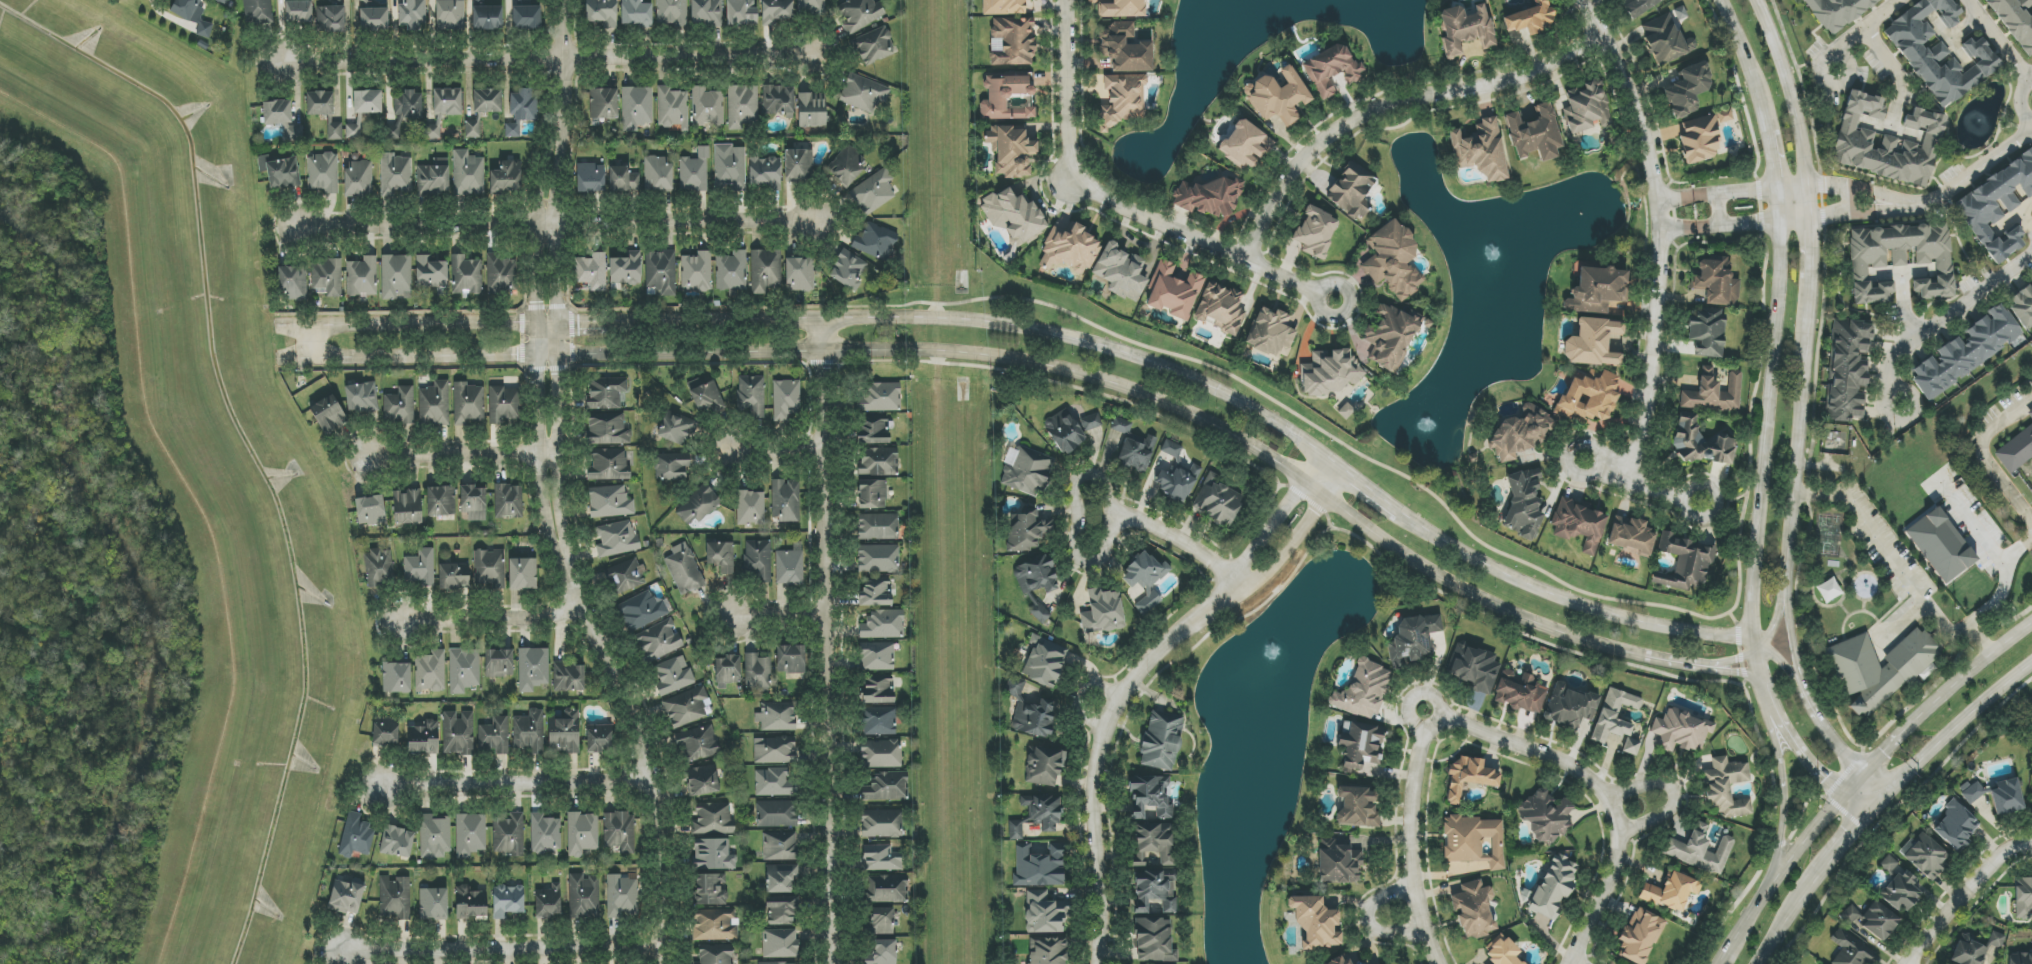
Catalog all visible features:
building: (363, 0)
building: (1004, 7)
building: (1640, 7)
building: (811, 8)
building: (1119, 8)
building: (257, 10)
building: (298, 11)
building: (776, 11)
building: (602, 12)
building: (741, 12)
building: (1837, 12)
building: (636, 13)
building: (671, 13)
building: (706, 13)
building: (193, 14)
building: (412, 14)
building: (859, 14)
building: (450, 15)
building: (525, 16)
building: (487, 18)
building: (1531, 18)
building: (335, 19)
building: (374, 19)
building: (2016, 21)
road: (1868, 23)
building: (1465, 29)
road: (1998, 39)
building: (1666, 40)
building: (1013, 41)
building: (874, 46)
building: (1124, 48)
building: (1939, 53)
road: (548, 57)
building: (1332, 69)
road: (1894, 72)
road: (2030, 77)
road: (1787, 89)
building: (1687, 90)
building: (863, 93)
building: (1007, 97)
building: (1277, 97)
building: (1121, 99)
building: (487, 100)
building: (367, 101)
building: (778, 101)
building: (320, 103)
building: (603, 103)
road: (2018, 103)
building: (523, 105)
building: (408, 106)
building: (742, 106)
road: (1388, 106)
building: (637, 107)
building: (707, 107)
building: (672, 108)
building: (1586, 108)
building: (442, 109)
building: (812, 110)
building: (277, 112)
building: (1724, 116)
building: (472, 129)
building: (512, 130)
building: (335, 131)
building: (353, 131)
building: (293, 133)
building: (1535, 134)
building: (1699, 139)
building: (1887, 142)
building: (1245, 144)
building: (1010, 150)
building: (1480, 150)
building: (798, 165)
building: (846, 165)
building: (729, 167)
building: (279, 172)
building: (694, 172)
building: (765, 172)
building: (322, 173)
building: (395, 174)
building: (468, 174)
building: (658, 175)
building: (434, 177)
building: (506, 177)
building: (358, 178)
building: (591, 178)
road: (1964, 179)
building: (623, 180)
road: (1840, 188)
road: (1733, 190)
building: (1351, 191)
building: (873, 192)
building: (1209, 196)
road: (1880, 198)
road: (1847, 200)
road: (1116, 204)
road: (1881, 206)
building: (1997, 207)
building: (2031, 211)
road: (1841, 212)
building: (1012, 214)
road: (557, 222)
road: (1733, 223)
road: (1659, 231)
building: (1314, 232)
building: (875, 241)
fountain: (1493, 255)
road: (1807, 257)
building: (1393, 259)
building: (1901, 259)
building: (626, 269)
building: (847, 269)
building: (592, 271)
building: (731, 271)
building: (765, 271)
building: (661, 272)
building: (696, 272)
building: (1120, 272)
building: (431, 273)
building: (500, 273)
building: (466, 275)
building: (800, 275)
building: (396, 276)
building: (327, 277)
building: (362, 277)
building: (1716, 281)
building: (293, 283)
building: (1596, 289)
building: (1173, 291)
building: (2022, 305)
building: (1220, 308)
road: (1940, 319)
road: (297, 326)
building: (1272, 332)
building: (1707, 333)
building: (1390, 336)
road: (313, 341)
building: (1593, 343)
road: (1105, 345)
road: (568, 347)
building: (1965, 352)
road: (297, 356)
building: (1848, 369)
building: (1331, 371)
building: (1691, 383)
building: (605, 393)
building: (1714, 393)
building: (705, 396)
building: (751, 396)
building: (360, 397)
building: (879, 397)
building: (1589, 397)
building: (786, 399)
building: (468, 403)
building: (504, 404)
building: (434, 405)
building: (399, 406)
building: (2030, 408)
building: (1346, 411)
building: (328, 414)
building: (2030, 415)
road: (1768, 422)
building: (1121, 426)
building: (677, 427)
fountain: (1427, 427)
building: (608, 429)
building: (1072, 429)
building: (873, 430)
building: (1521, 434)
building: (1701, 442)
road: (776, 447)
building: (1172, 448)
building: (2018, 449)
building: (1136, 452)
road: (464, 455)
road: (1985, 456)
building: (877, 462)
road: (1798, 462)
building: (609, 465)
building: (672, 468)
building: (1027, 471)
building: (1177, 481)
road: (1104, 483)
road: (1639, 486)
road: (561, 490)
building: (872, 494)
building: (785, 500)
building: (441, 501)
building: (508, 501)
building: (1218, 501)
road: (1327, 501)
building: (473, 502)
building: (610, 502)
building: (1523, 504)
building: (699, 505)
building: (407, 507)
building: (751, 508)
building: (370, 510)
road: (1276, 519)
building: (1579, 524)
building: (878, 527)
building: (1026, 529)
road: (1978, 531)
road: (1298, 535)
building: (1631, 537)
building: (617, 539)
building: (1939, 545)
road: (1889, 554)
building: (720, 557)
building: (878, 559)
building: (758, 560)
building: (1685, 563)
building: (379, 567)
building: (790, 567)
building: (420, 568)
building: (489, 568)
building: (684, 570)
building: (522, 574)
building: (454, 576)
building: (625, 576)
building: (1144, 581)
building: (1036, 584)
building: (876, 592)
road: (1997, 599)
building: (643, 610)
building: (1102, 611)
road: (495, 616)
road: (777, 618)
road: (1905, 619)
building: (883, 624)
building: (1413, 639)
road: (829, 640)
building: (658, 641)
road: (1793, 643)
fountain: (1272, 654)
building: (877, 656)
building: (790, 662)
building: (1044, 662)
building: (498, 663)
road: (1976, 666)
building: (1473, 668)
building: (1877, 668)
building: (533, 669)
building: (464, 670)
building: (727, 670)
building: (431, 672)
road: (1731, 672)
building: (758, 674)
building: (672, 675)
building: (396, 677)
building: (569, 677)
building: (878, 690)
building: (1364, 690)
building: (1520, 692)
building: (1570, 706)
road: (1815, 711)
building: (1030, 713)
building: (776, 717)
building: (879, 721)
building: (1617, 721)
road: (1959, 722)
building: (1682, 729)
building: (385, 732)
building: (529, 732)
building: (458, 733)
building: (564, 733)
building: (495, 736)
building: (424, 738)
building: (599, 738)
building: (1161, 740)
road: (1896, 741)
building: (698, 744)
road: (1101, 745)
building: (1360, 745)
road: (1846, 748)
road: (1529, 749)
building: (775, 750)
building: (881, 754)
building: (1042, 765)
traffic signals: (1866, 769)
building: (1468, 777)
road: (1879, 779)
building: (704, 780)
building: (774, 782)
road: (520, 785)
building: (887, 787)
building: (1726, 787)
traffic signals: (1892, 790)
building: (1972, 792)
road: (1673, 794)
traffic signals: (1844, 795)
road: (1783, 796)
building: (2006, 797)
building: (1150, 798)
road: (1880, 801)
building: (1357, 807)
traffic signals: (1868, 813)
building: (777, 814)
building: (1037, 815)
building: (1546, 816)
building: (714, 818)
building: (882, 823)
building: (1955, 827)
building: (619, 832)
building: (509, 833)
building: (545, 833)
building: (582, 833)
building: (470, 835)
building: (356, 836)
building: (435, 836)
road: (1409, 838)
building: (1474, 841)
building: (397, 842)
building: (780, 846)
road: (1839, 848)
building: (1701, 850)
building: (713, 855)
building: (1925, 855)
building: (880, 858)
building: (1338, 861)
road: (1787, 862)
building: (1888, 864)
building: (1039, 866)
building: (781, 878)
building: (1553, 886)
building: (886, 888)
building: (711, 889)
building: (1671, 891)
road: (1602, 892)
building: (1901, 892)
road: (1964, 894)
building: (621, 895)
building: (347, 896)
building: (583, 896)
building: (2023, 897)
building: (396, 898)
building: (507, 901)
building: (548, 902)
building: (433, 903)
building: (470, 904)
building: (1473, 909)
building: (781, 910)
building: (1044, 913)
road: (1370, 920)
building: (1872, 920)
building: (880, 921)
road: (1785, 924)
building: (715, 925)
building: (1315, 925)
building: (1640, 936)
building: (1153, 940)
building: (1996, 940)
building: (780, 943)
building: (1850, 949)
road: (506, 950)
building: (1046, 950)
building: (1502, 951)
building: (882, 952)
building: (1968, 952)
building: (714, 954)
building: (2020, 959)
building: (1340, 960)
road: (1577, 961)
building: (778, 963)

